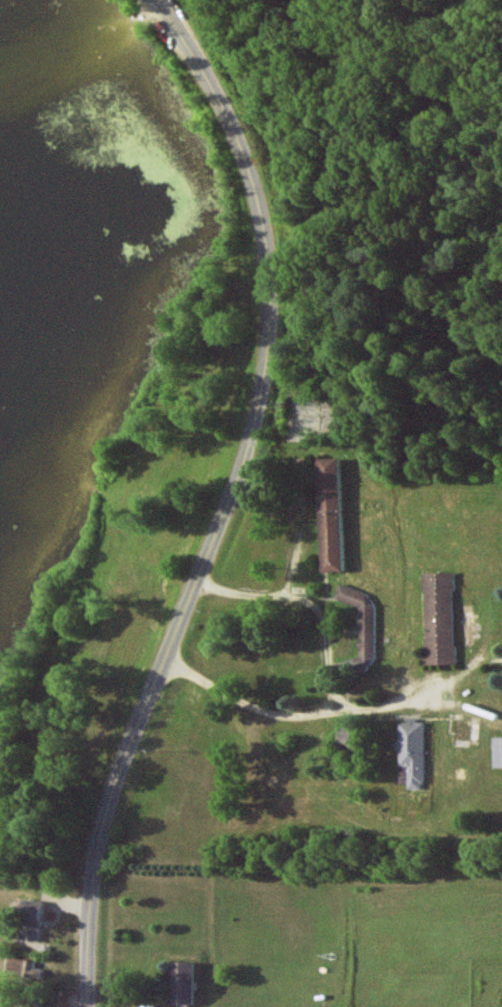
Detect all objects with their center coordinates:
road: (231, 501)
building: (330, 515)
road: (291, 584)
building: (439, 618)
building: (361, 624)
road: (299, 711)
building: (412, 752)
building: (497, 752)
building: (31, 920)
building: (23, 969)
building: (181, 982)

